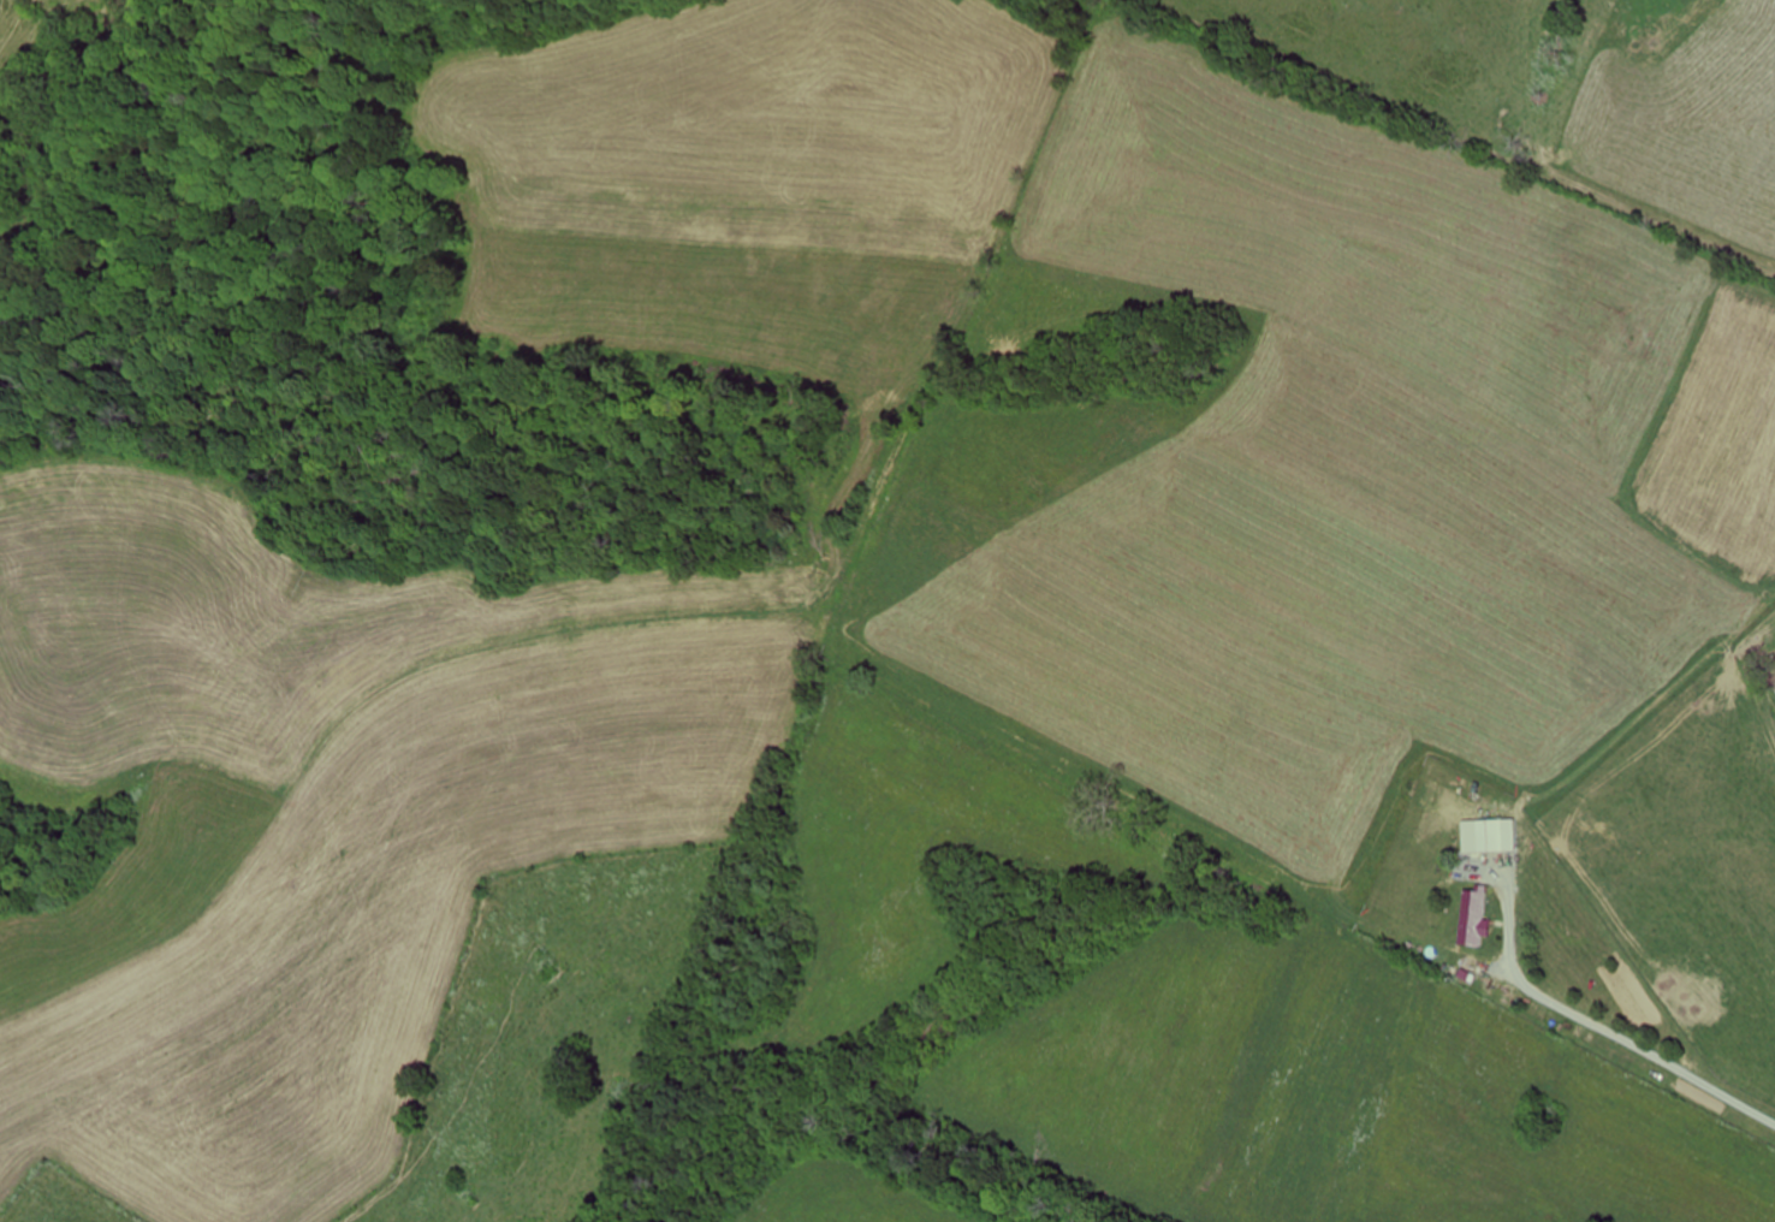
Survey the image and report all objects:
building: (1488, 837)
building: (1472, 919)

